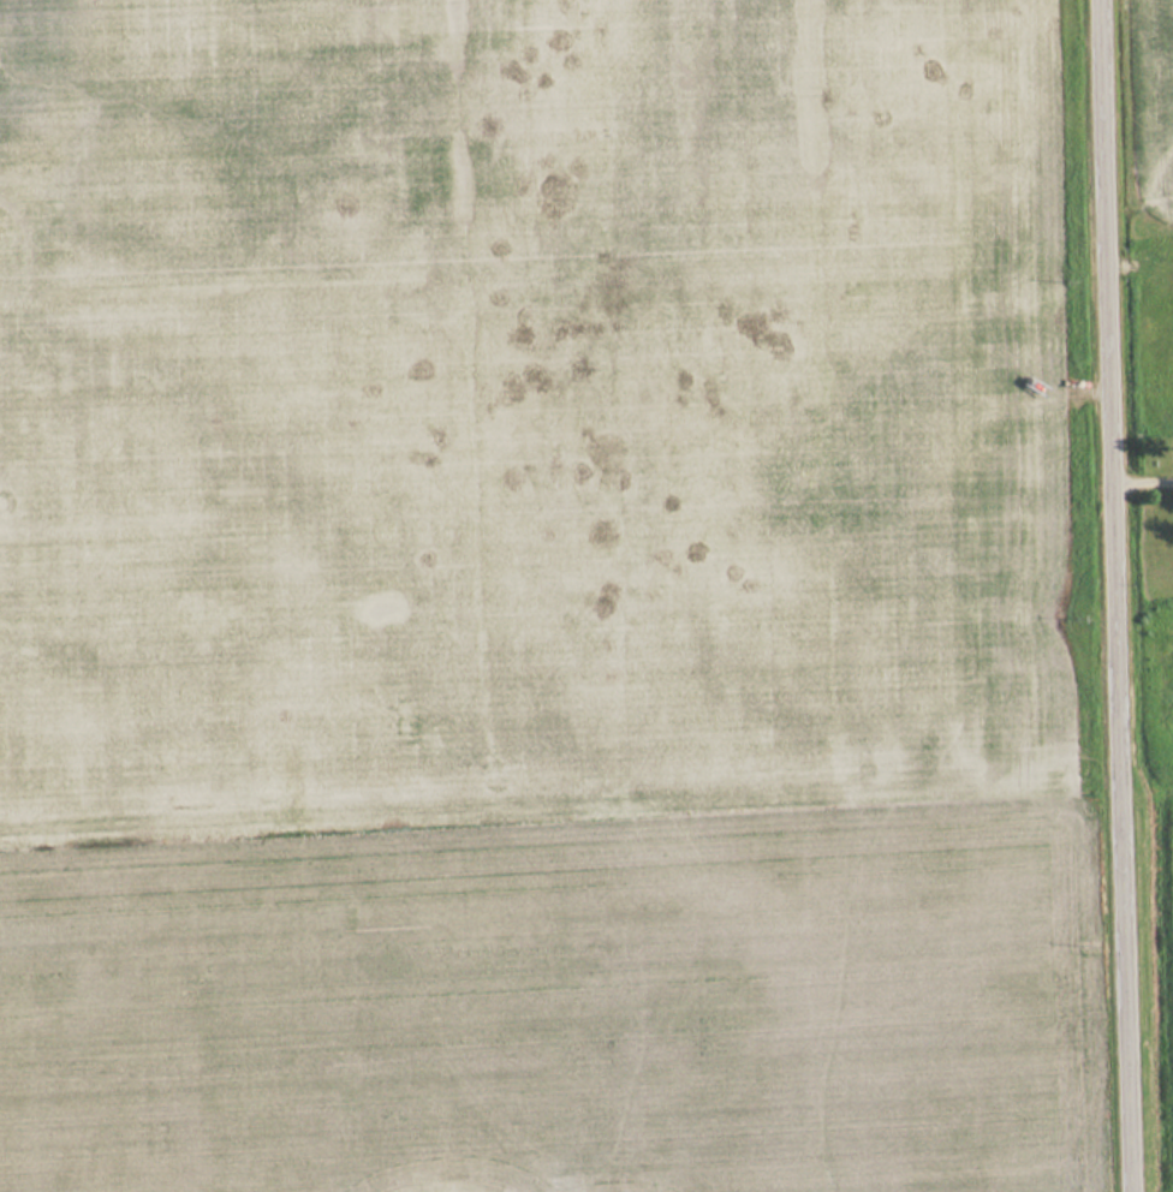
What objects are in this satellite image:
road: (1121, 596)

